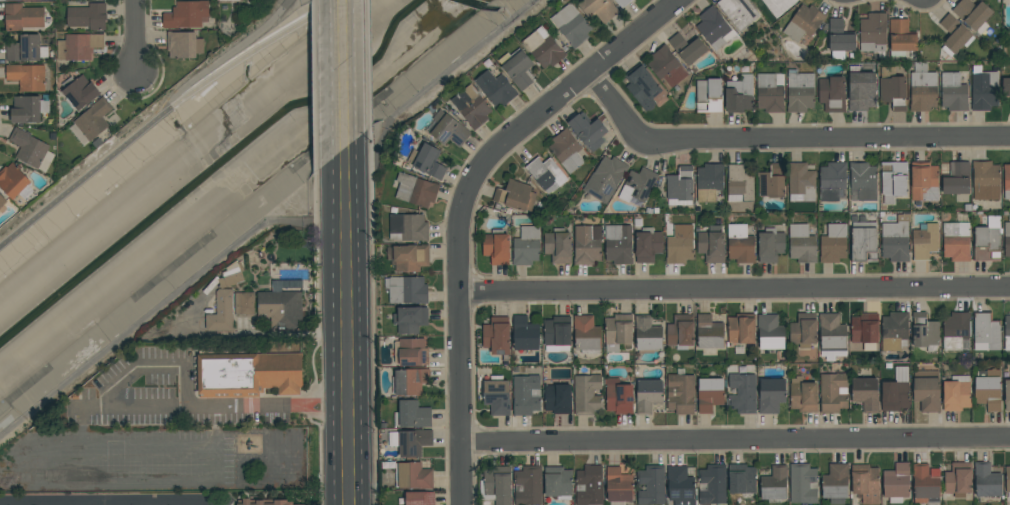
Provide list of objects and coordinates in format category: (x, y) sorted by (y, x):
building: (10, 0)
building: (230, 1)
building: (621, 3)
building: (778, 6)
building: (598, 9)
building: (738, 12)
building: (973, 14)
building: (187, 15)
building: (88, 16)
building: (23, 17)
building: (803, 23)
building: (571, 25)
building: (714, 28)
building: (873, 32)
road: (363, 33)
building: (954, 35)
building: (901, 37)
building: (839, 39)
road: (137, 42)
road: (332, 43)
building: (184, 45)
building: (79, 47)
building: (543, 47)
building: (687, 48)
building: (27, 49)
road: (223, 58)
building: (666, 67)
building: (517, 68)
building: (27, 77)
road: (438, 81)
building: (642, 86)
building: (1005, 87)
building: (495, 88)
building: (892, 88)
building: (922, 88)
building: (983, 88)
building: (860, 89)
building: (799, 91)
building: (953, 91)
building: (80, 92)
building: (770, 92)
building: (831, 93)
building: (739, 94)
building: (708, 95)
road: (364, 106)
building: (471, 106)
building: (1009, 107)
building: (29, 109)
road: (161, 116)
building: (92, 122)
road: (333, 127)
building: (448, 129)
building: (588, 130)
road: (784, 137)
building: (32, 150)
building: (566, 150)
building: (427, 160)
building: (546, 174)
building: (605, 178)
building: (956, 178)
building: (13, 180)
building: (831, 180)
building: (863, 180)
building: (985, 180)
building: (709, 181)
building: (893, 181)
building: (924, 181)
building: (1006, 181)
building: (771, 182)
building: (801, 182)
building: (739, 183)
building: (637, 185)
building: (680, 186)
building: (415, 190)
road: (334, 195)
building: (515, 195)
building: (2, 202)
road: (464, 202)
building: (408, 227)
building: (895, 239)
building: (1007, 239)
building: (987, 240)
building: (924, 241)
building: (955, 241)
building: (863, 242)
building: (833, 243)
building: (587, 244)
building: (617, 244)
building: (740, 244)
building: (802, 244)
building: (558, 245)
building: (647, 245)
building: (679, 245)
building: (711, 245)
building: (770, 245)
building: (526, 246)
building: (496, 247)
building: (409, 257)
building: (232, 275)
road: (735, 287)
building: (406, 289)
building: (245, 303)
building: (282, 304)
building: (222, 312)
building: (410, 319)
road: (365, 325)
building: (741, 329)
building: (803, 330)
building: (865, 330)
building: (924, 330)
building: (955, 330)
building: (618, 331)
building: (680, 331)
building: (894, 331)
building: (985, 331)
building: (709, 332)
building: (770, 332)
building: (1007, 332)
building: (647, 333)
building: (524, 334)
building: (556, 334)
building: (496, 335)
building: (586, 335)
building: (832, 336)
building: (410, 352)
road: (335, 363)
road: (154, 366)
building: (248, 373)
building: (409, 381)
building: (988, 389)
building: (865, 390)
building: (926, 390)
building: (895, 391)
building: (680, 392)
building: (742, 392)
building: (833, 392)
building: (709, 393)
building: (956, 393)
building: (525, 394)
building: (586, 394)
building: (1007, 394)
building: (496, 395)
building: (648, 395)
building: (770, 395)
building: (803, 395)
building: (618, 396)
road: (317, 397)
building: (557, 399)
road: (317, 415)
building: (412, 415)
road: (735, 440)
building: (410, 442)
road: (199, 448)
building: (413, 476)
building: (958, 479)
building: (742, 480)
building: (986, 480)
building: (1007, 480)
building: (557, 482)
building: (896, 482)
building: (774, 483)
building: (803, 483)
building: (835, 483)
building: (925, 483)
building: (495, 484)
building: (864, 484)
building: (527, 485)
building: (589, 485)
building: (651, 485)
building: (680, 485)
building: (711, 485)
building: (618, 486)
road: (261, 496)
building: (419, 498)
building: (263, 502)
road: (42, 504)
road: (105, 504)
road: (125, 504)

